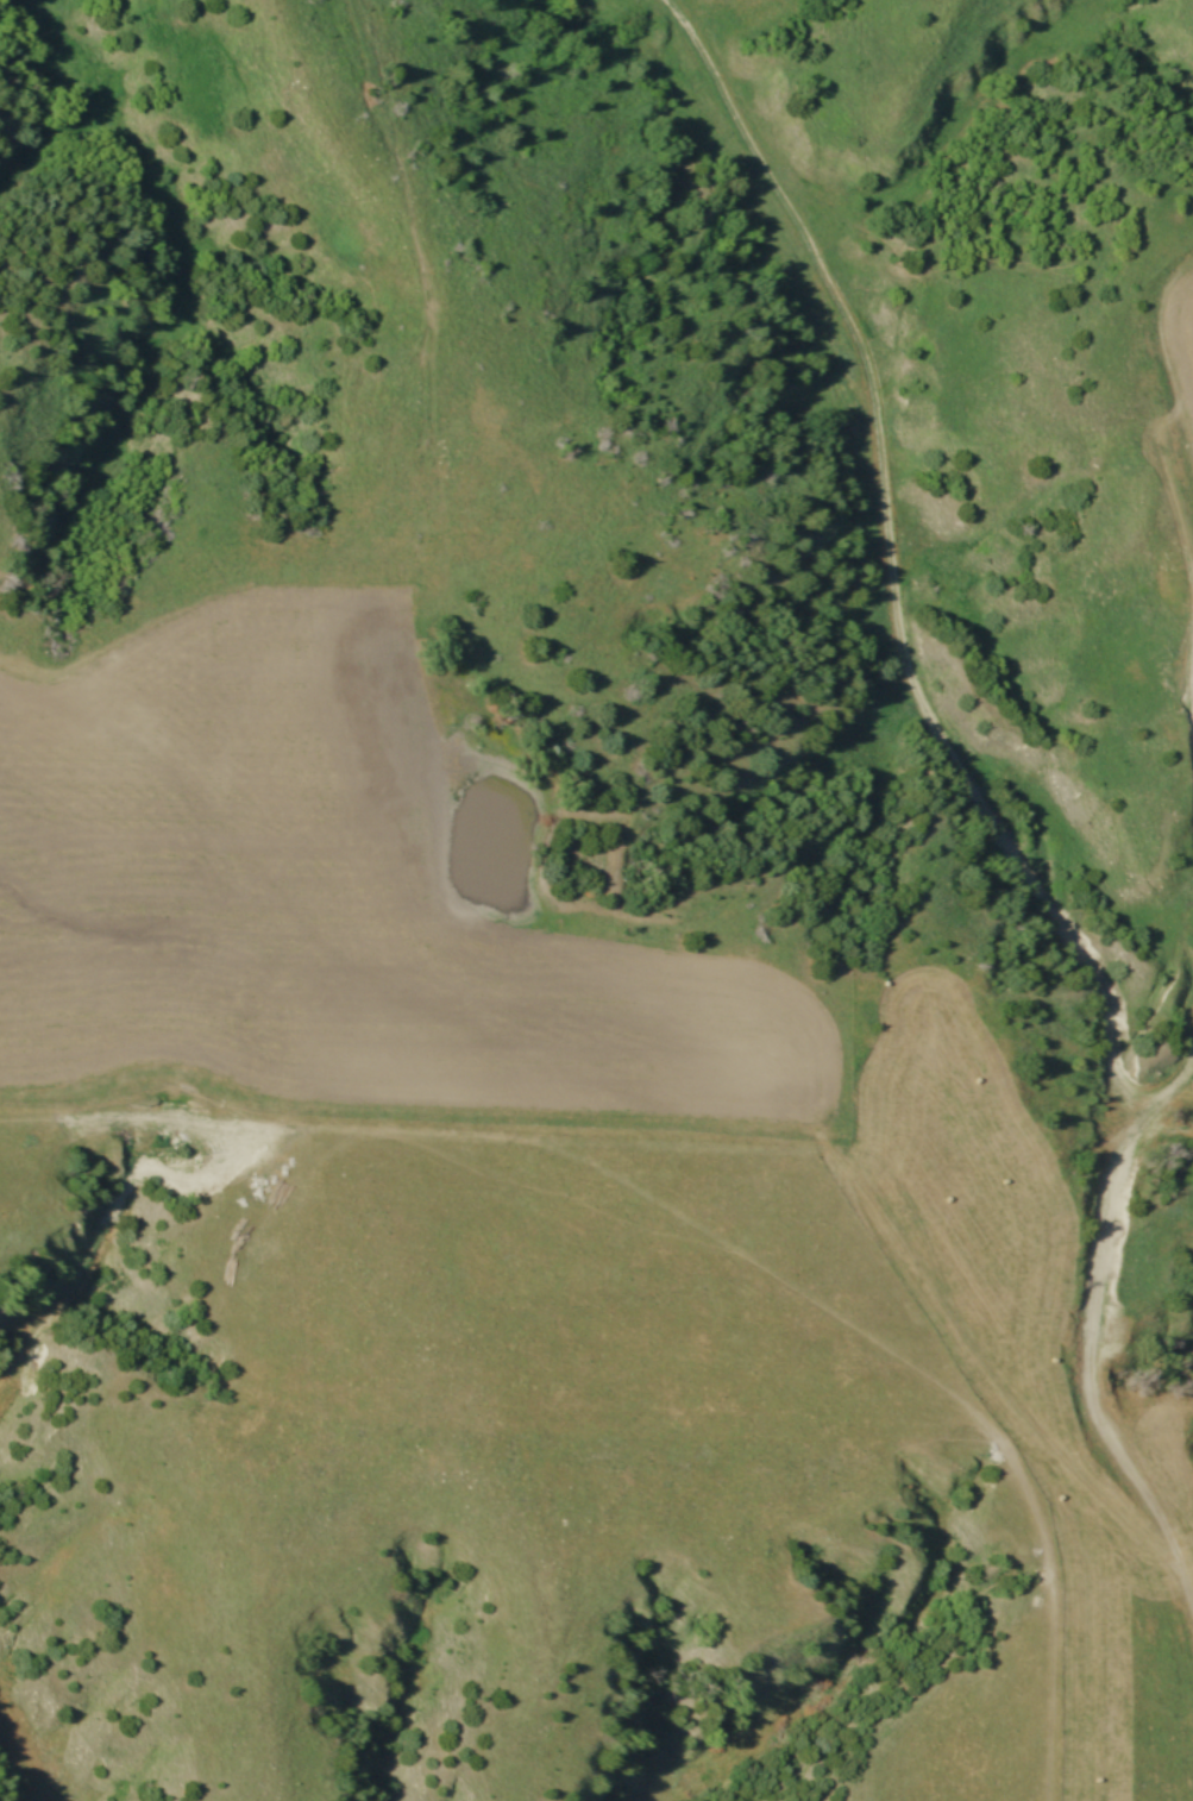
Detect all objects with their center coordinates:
road: (968, 798)

